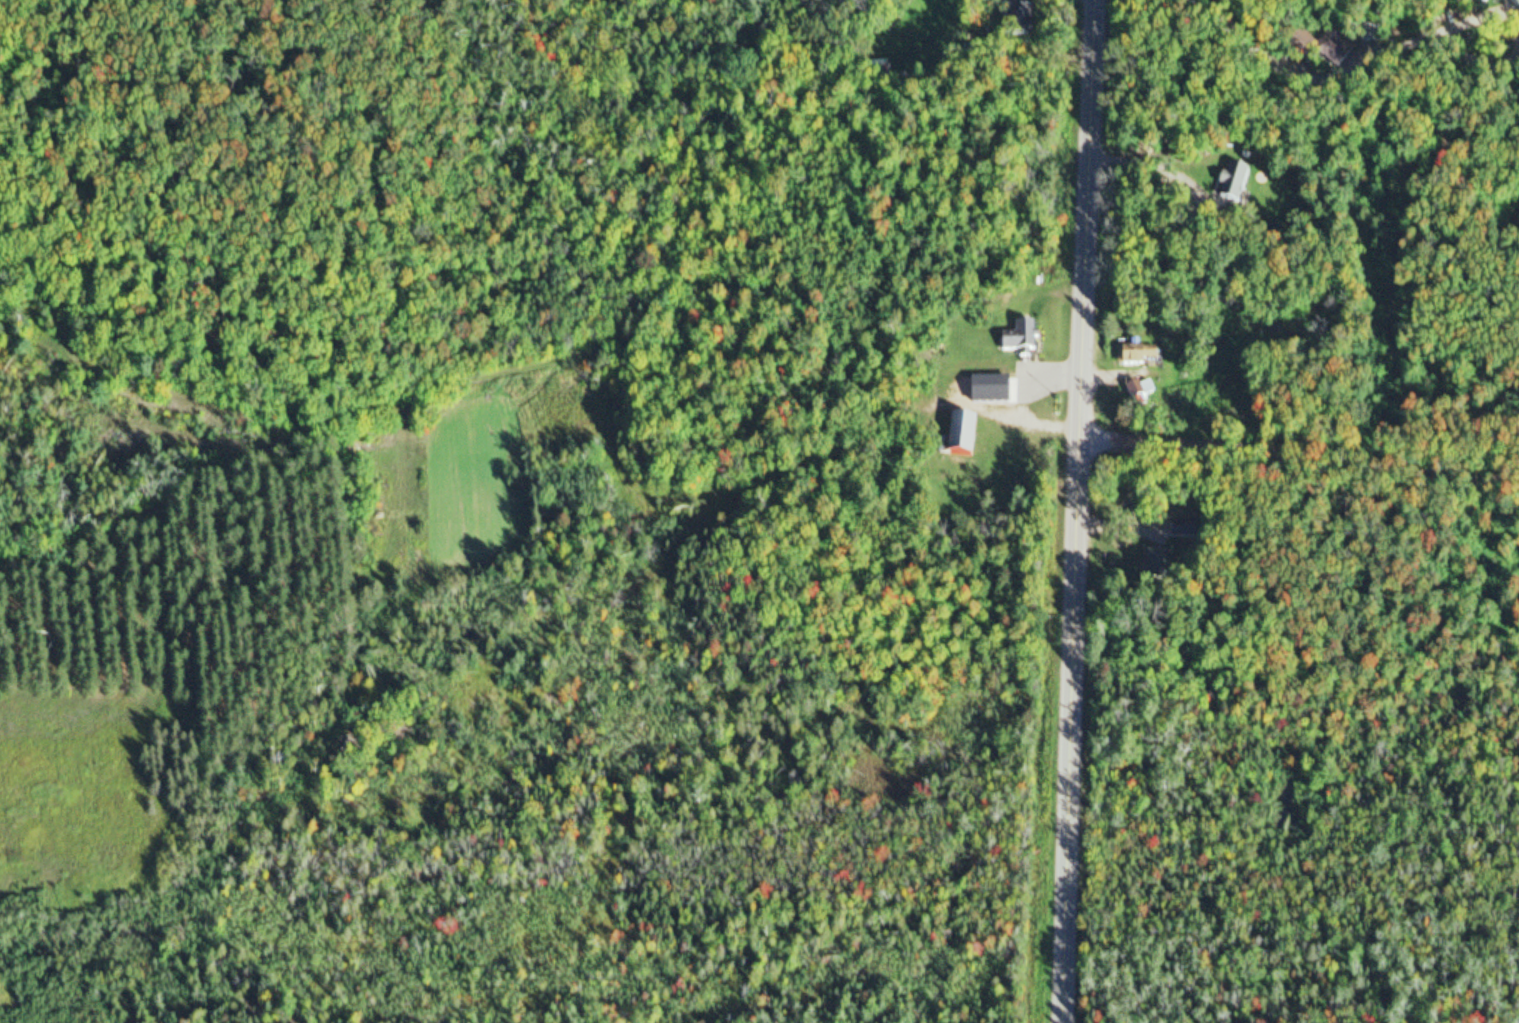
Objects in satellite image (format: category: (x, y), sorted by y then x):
building: (1037, 0)
building: (1517, 1)
building: (1341, 50)
building: (979, 53)
building: (1239, 185)
building: (1024, 340)
building: (1141, 357)
building: (1143, 395)
building: (1004, 396)
building: (968, 438)
road: (1299, 468)
road: (1077, 511)
building: (1162, 568)

